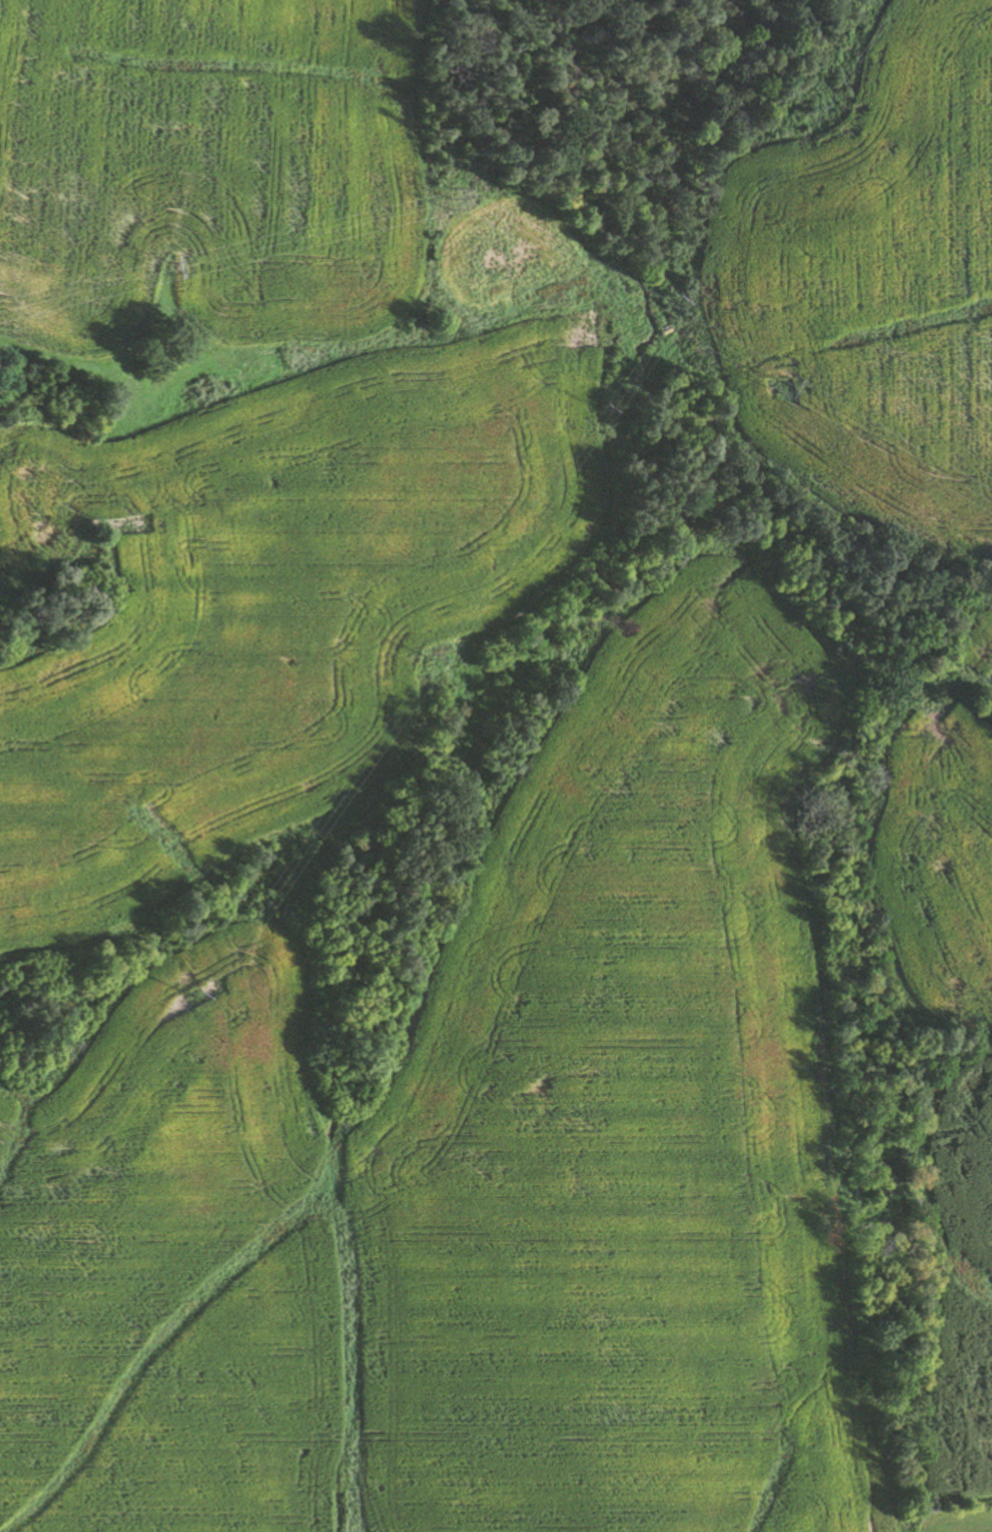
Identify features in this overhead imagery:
power tower: (445, 198)
power tower: (165, 267)
power tower: (780, 389)

